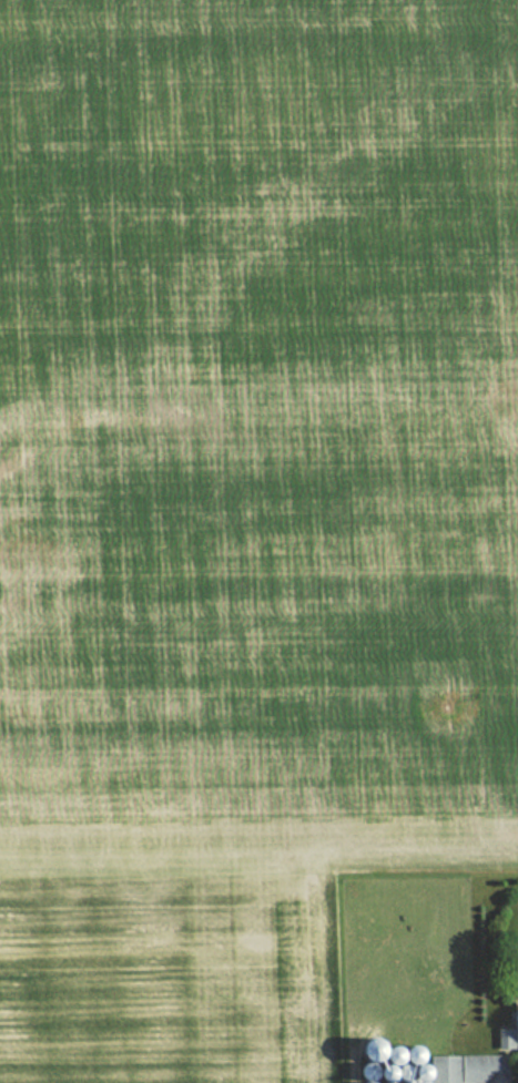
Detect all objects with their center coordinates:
crop: (245, 507)

